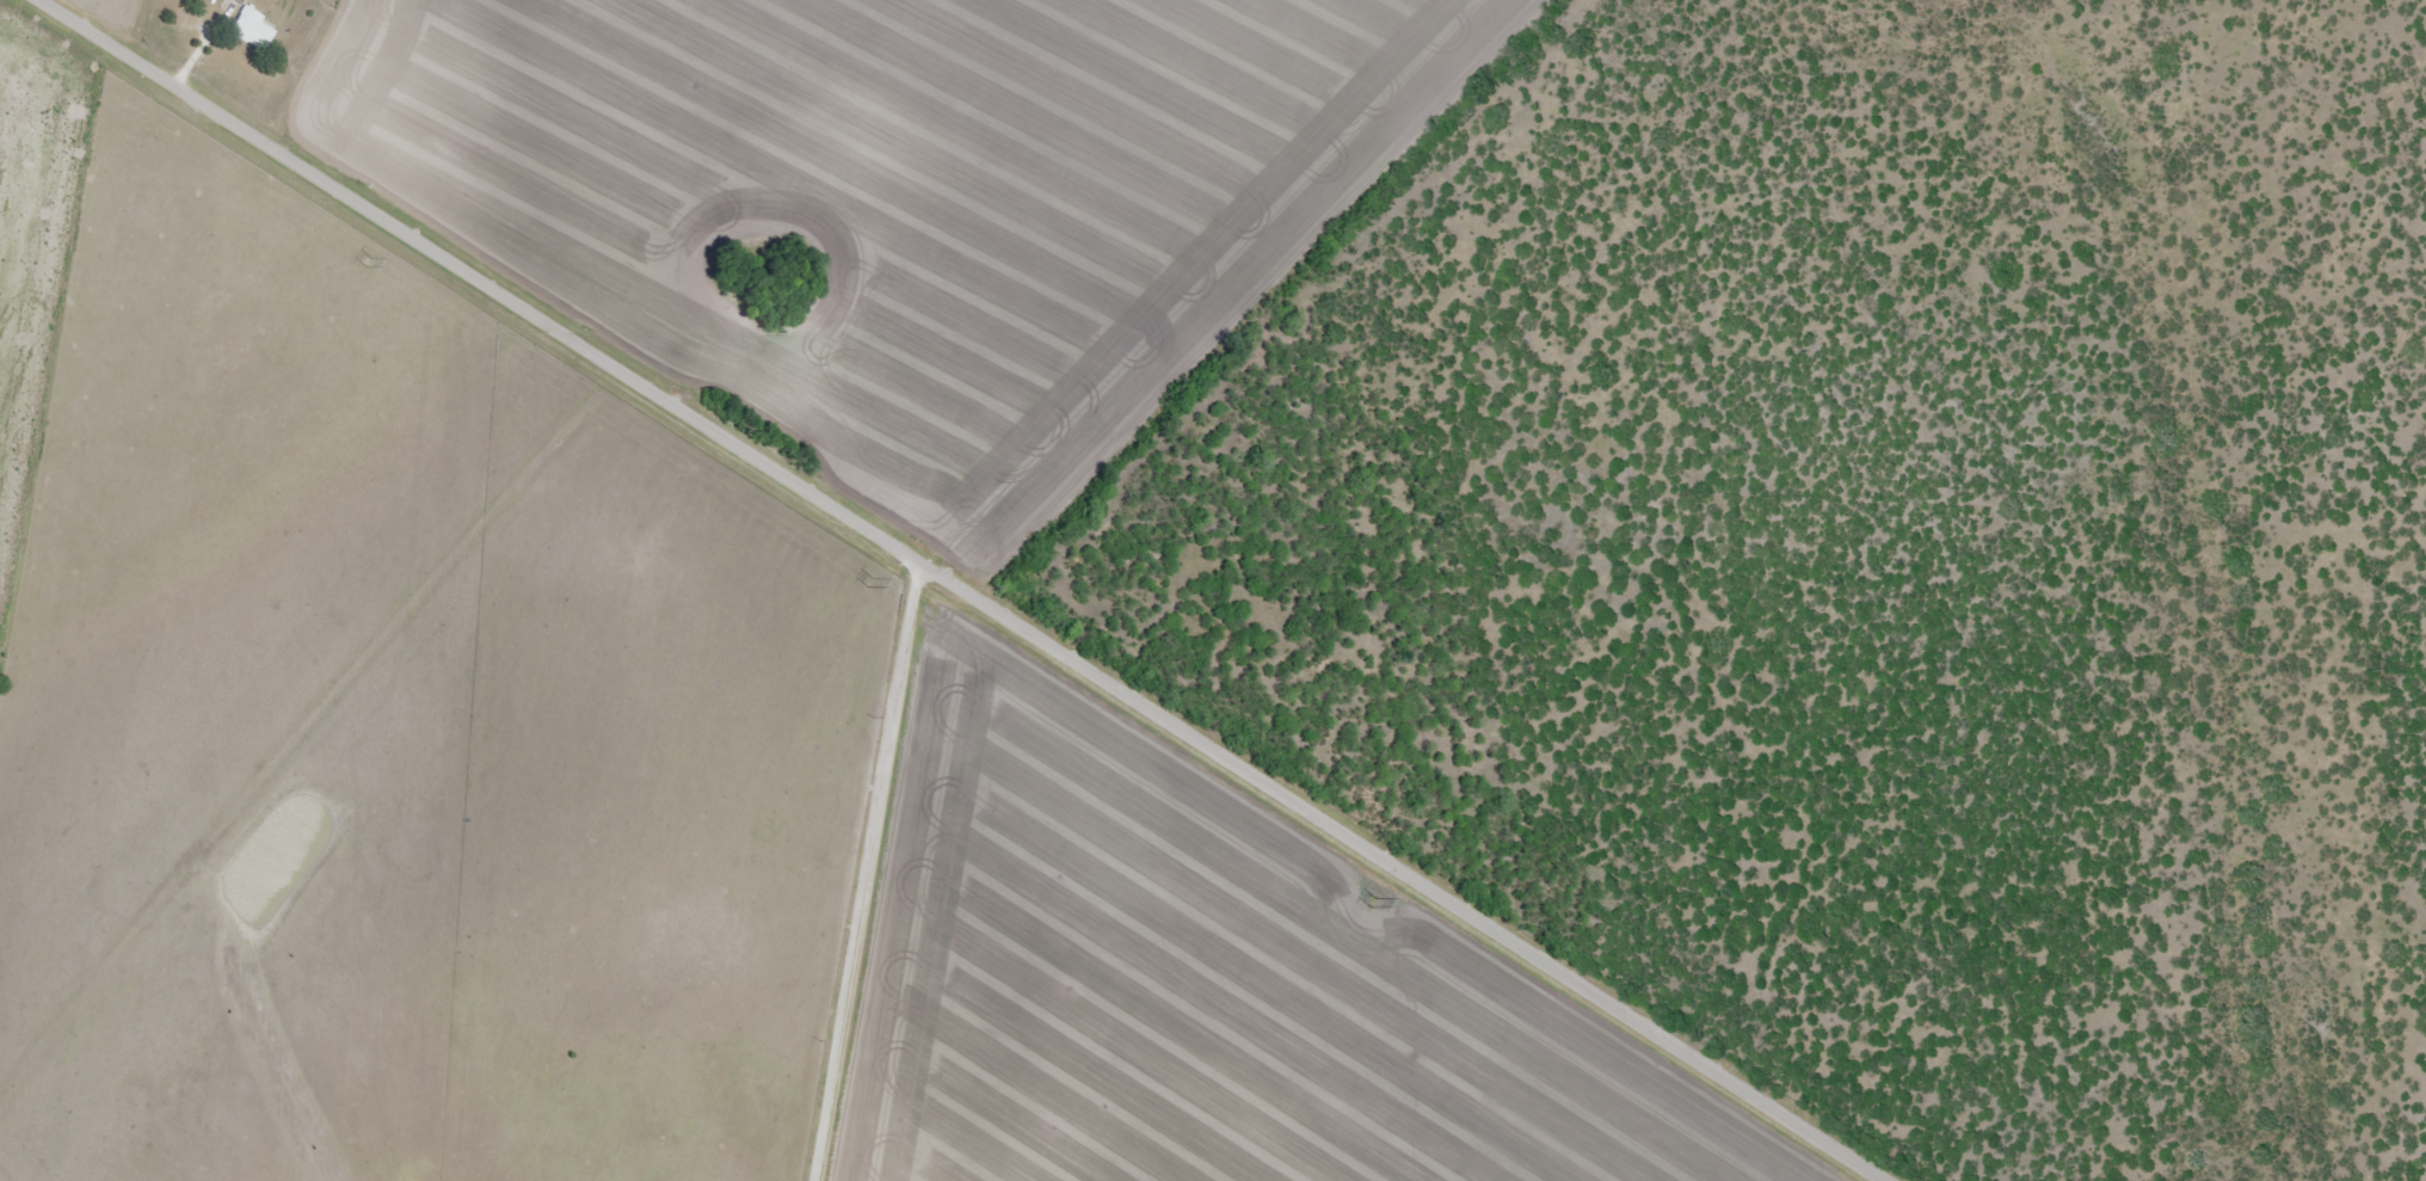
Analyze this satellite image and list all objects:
building: (239, 1)
building: (250, 30)
power tower: (369, 262)
road: (506, 279)
power tower: (870, 580)
road: (1415, 872)
road: (845, 885)
power tower: (1372, 906)

